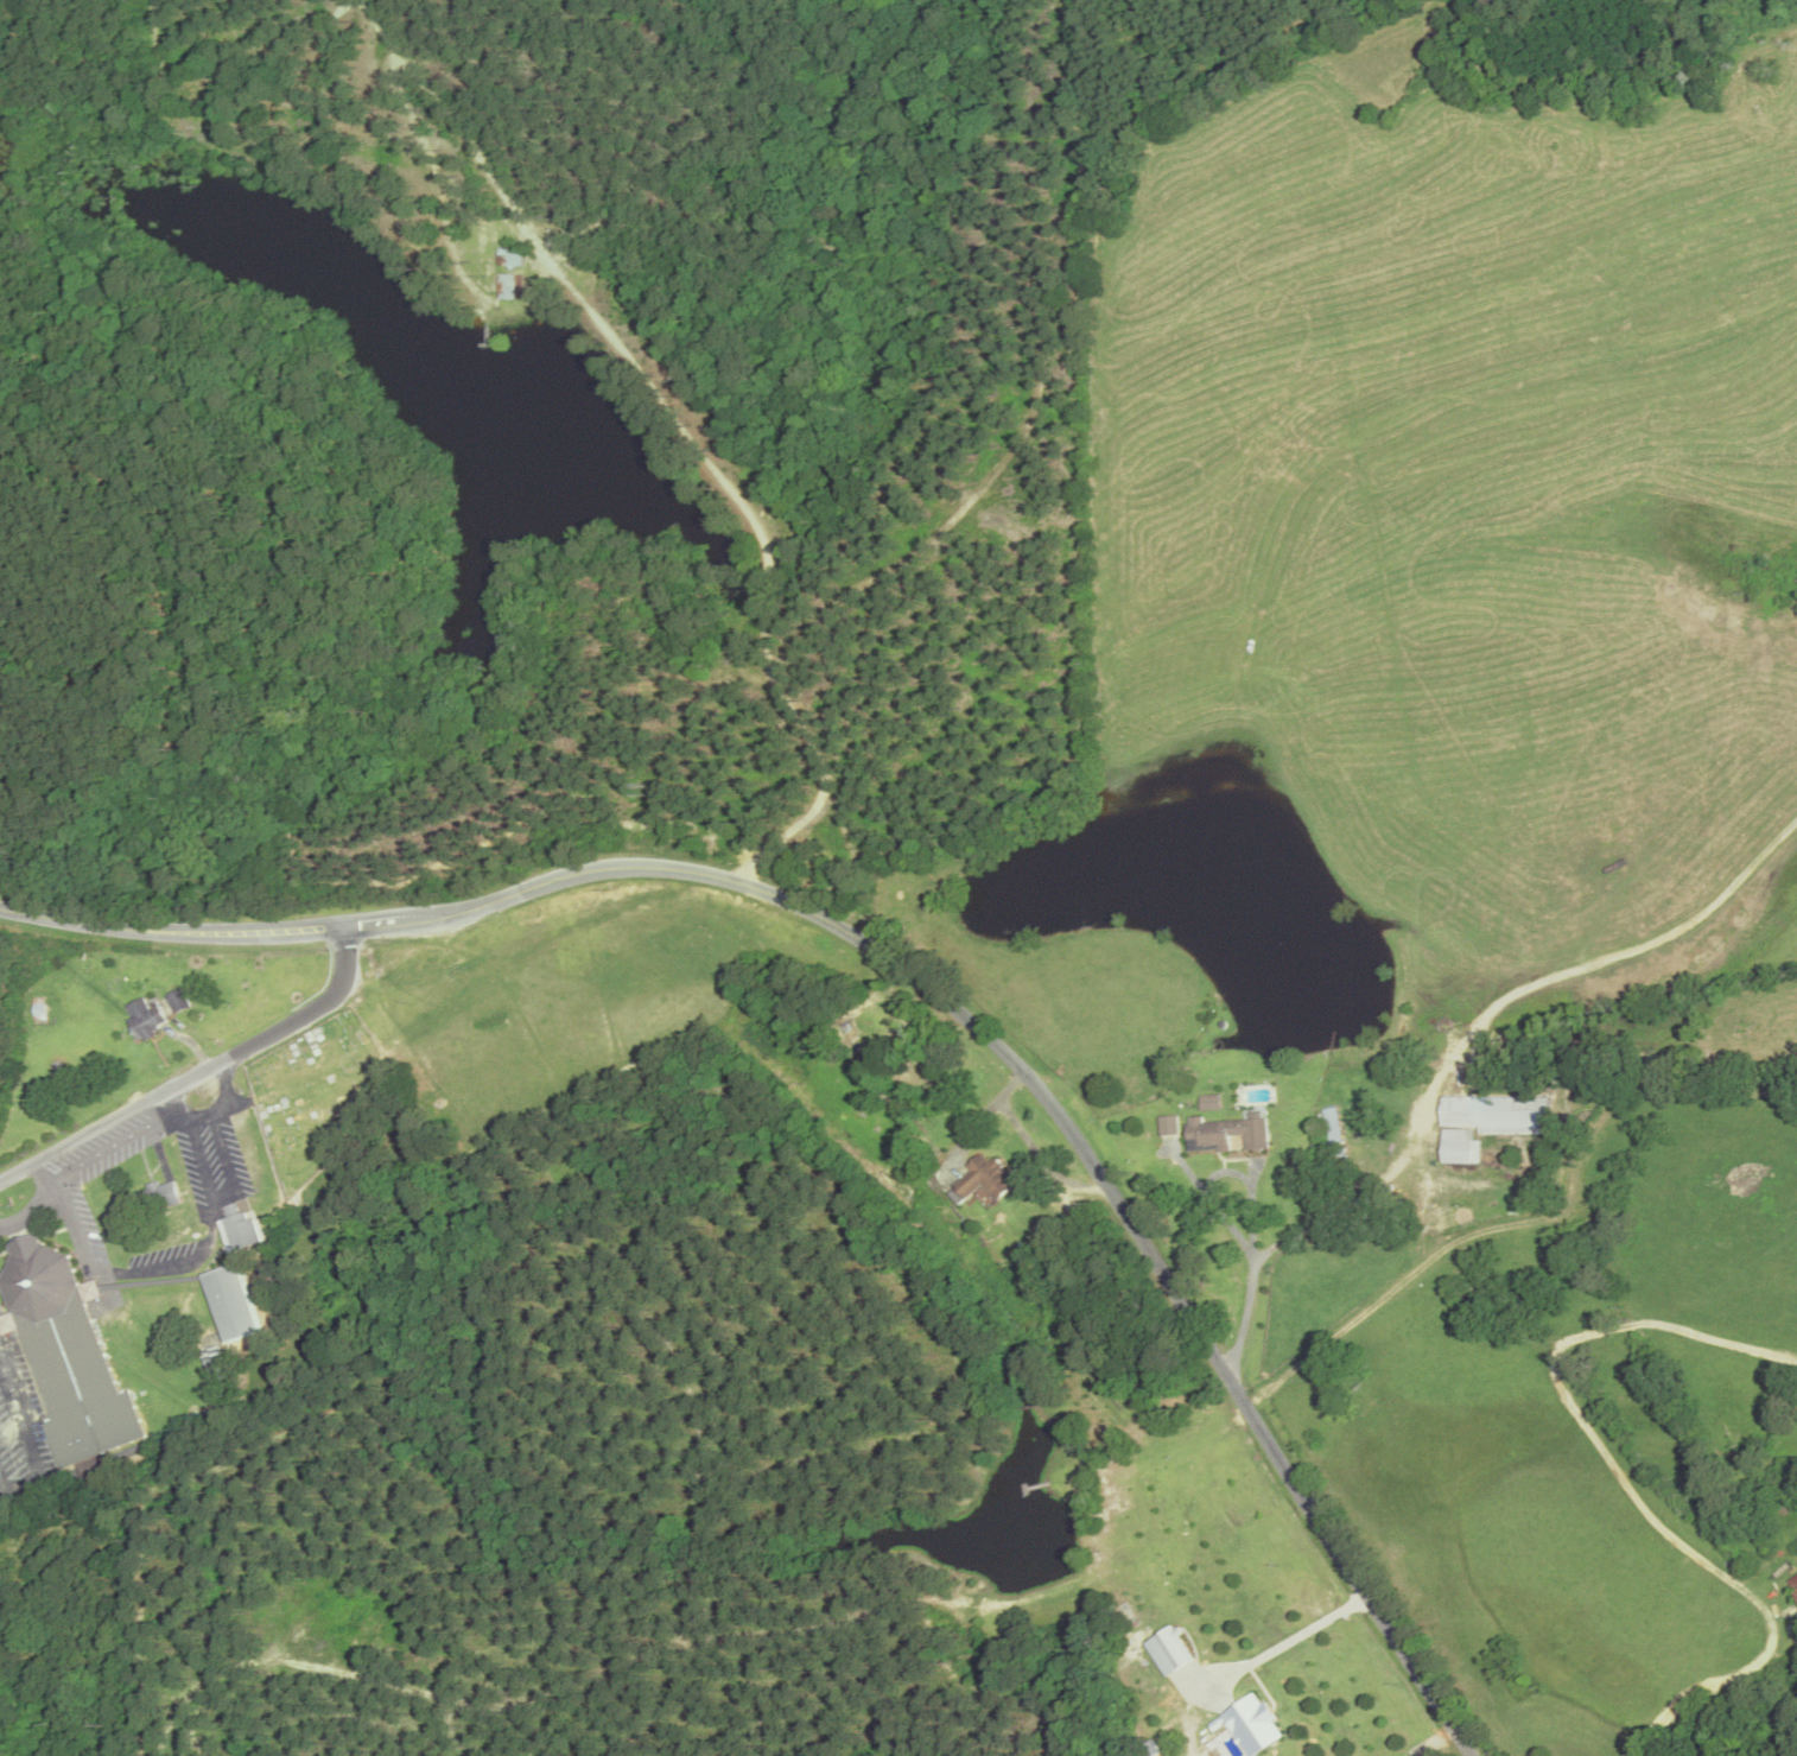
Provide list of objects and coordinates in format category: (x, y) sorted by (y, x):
road: (681, 430)
road: (170, 934)
building: (176, 1003)
building: (142, 1019)
road: (197, 1070)
road: (1041, 1098)
road: (202, 1110)
building: (1494, 1116)
building: (1166, 1128)
building: (1329, 1128)
building: (1224, 1136)
building: (1458, 1149)
road: (97, 1154)
building: (979, 1181)
building: (160, 1197)
road: (30, 1207)
building: (237, 1230)
building: (228, 1305)
building: (64, 1359)
road: (1282, 1642)
building: (1251, 1725)

